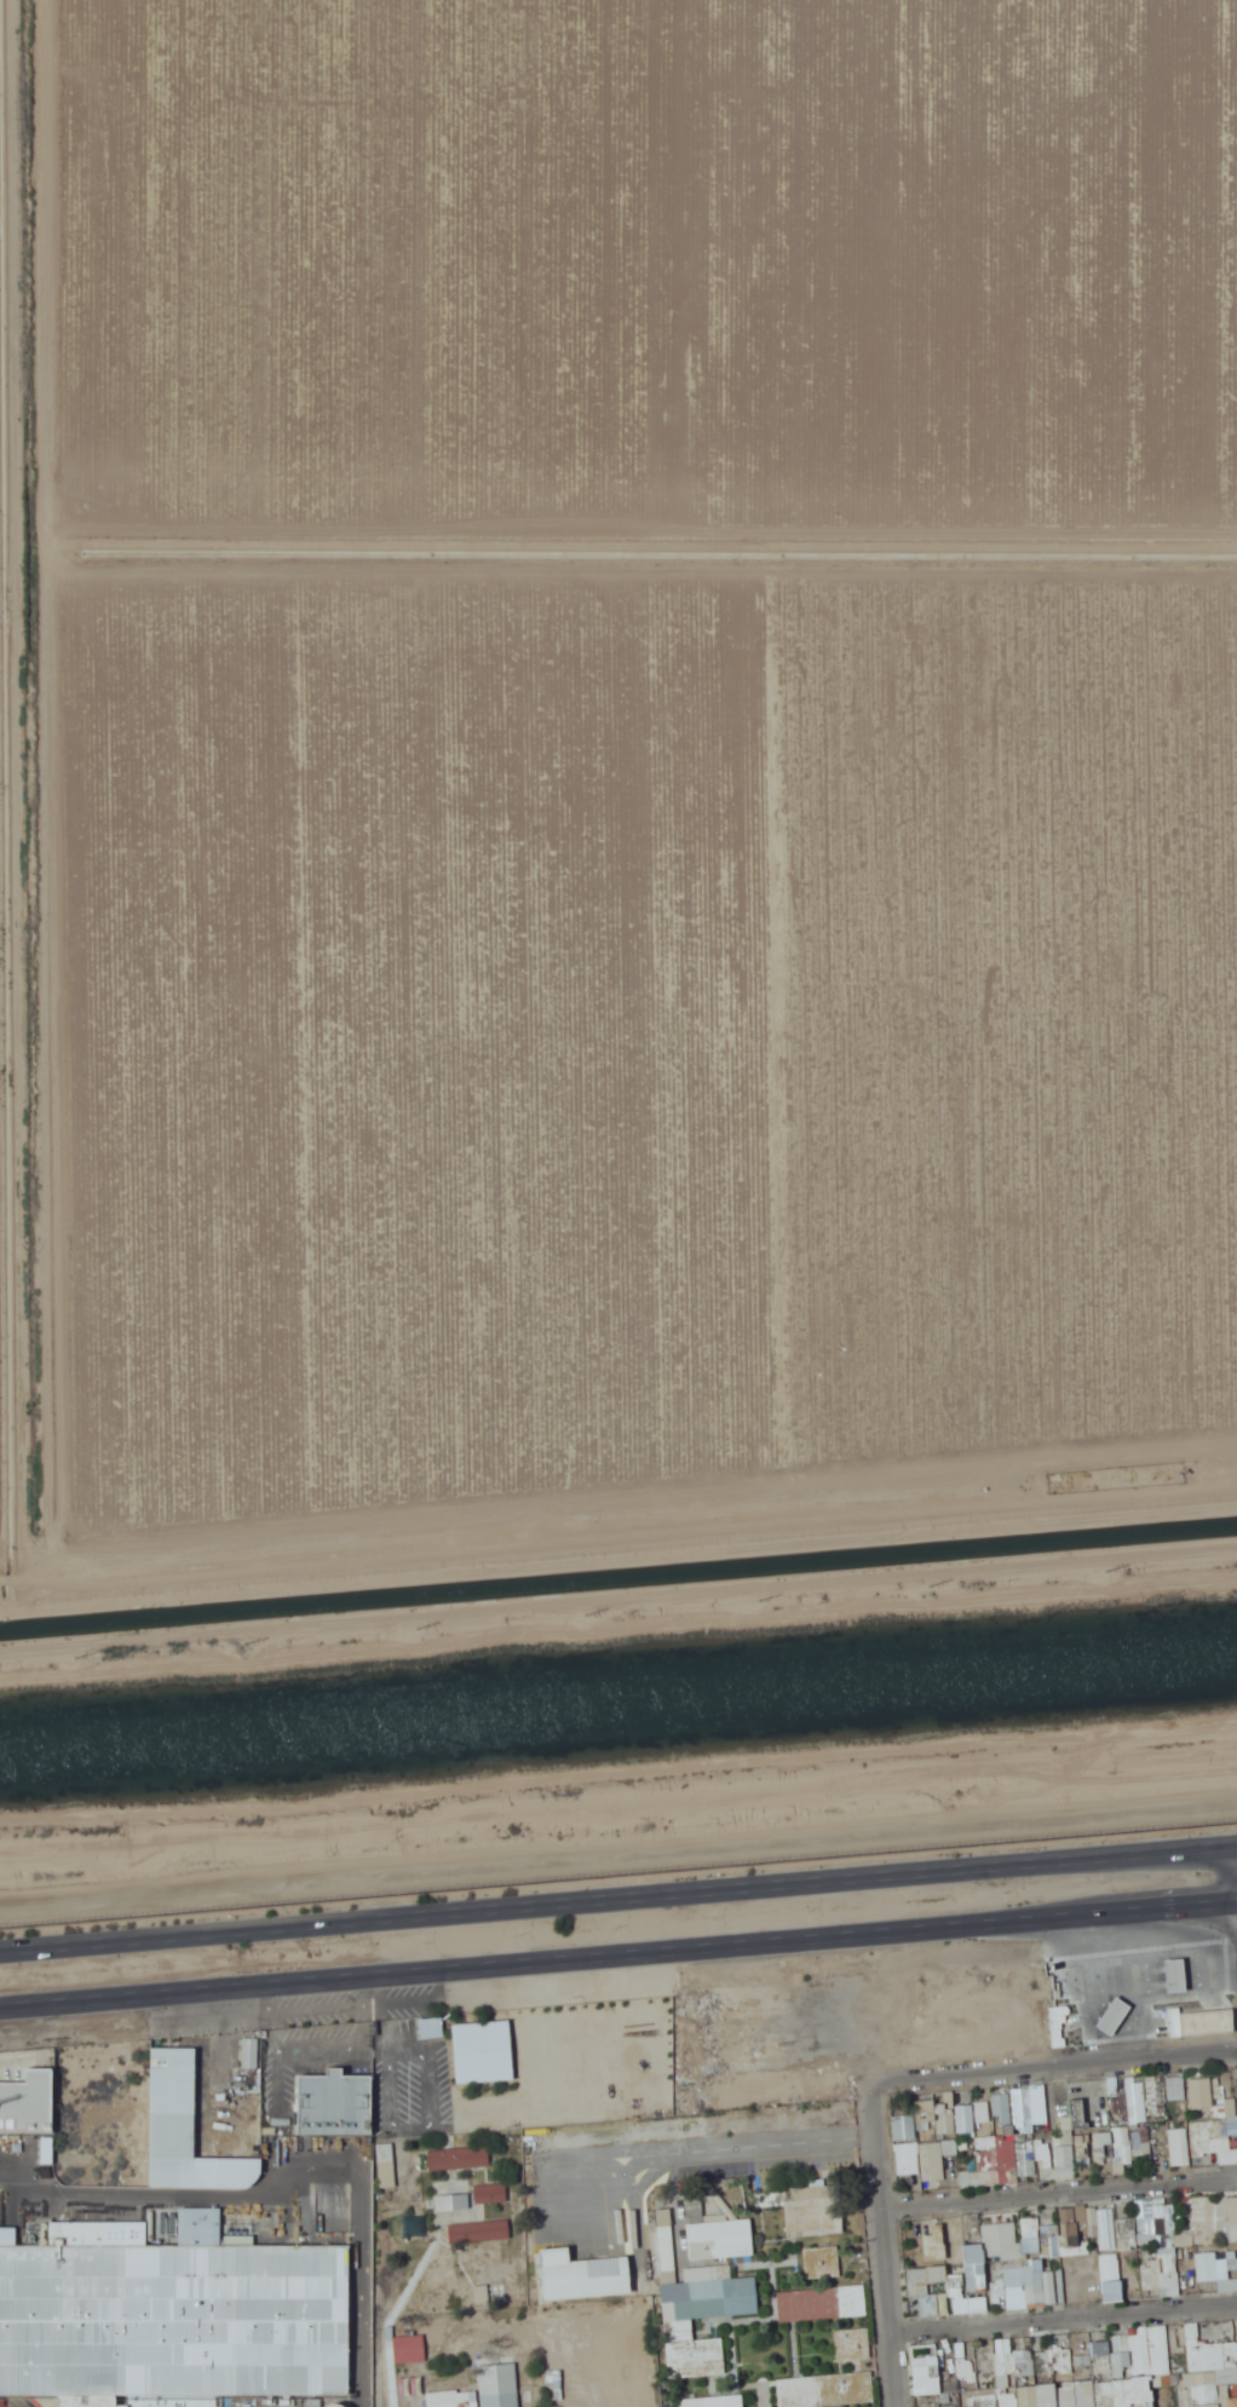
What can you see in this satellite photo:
road: (618, 1904)
road: (618, 1958)
building: (1173, 1973)
gas station: (1173, 1973)
road: (1058, 2069)
building: (1176, 2096)
building: (1201, 2096)
building: (27, 2102)
building: (1035, 2106)
building: (1002, 2108)
building: (982, 2112)
building: (945, 2115)
building: (1215, 2130)
building: (1122, 2146)
building: (1180, 2146)
building: (921, 2160)
building: (1006, 2160)
building: (1065, 2161)
road: (1059, 2188)
building: (491, 2193)
building: (1155, 2216)
building: (1099, 2224)
building: (479, 2230)
building: (715, 2234)
building: (1051, 2238)
building: (934, 2242)
building: (666, 2244)
building: (995, 2244)
road: (885, 2248)
building: (1216, 2265)
building: (582, 2275)
building: (1111, 2278)
building: (1038, 2288)
building: (956, 2294)
road: (1064, 2311)
building: (171, 2314)
building: (702, 2316)
building: (1138, 2346)
building: (1005, 2361)
road: (358, 2363)
building: (926, 2372)
building: (1046, 2377)
building: (499, 2385)
building: (1133, 2392)
building: (710, 2401)
building: (983, 2401)

